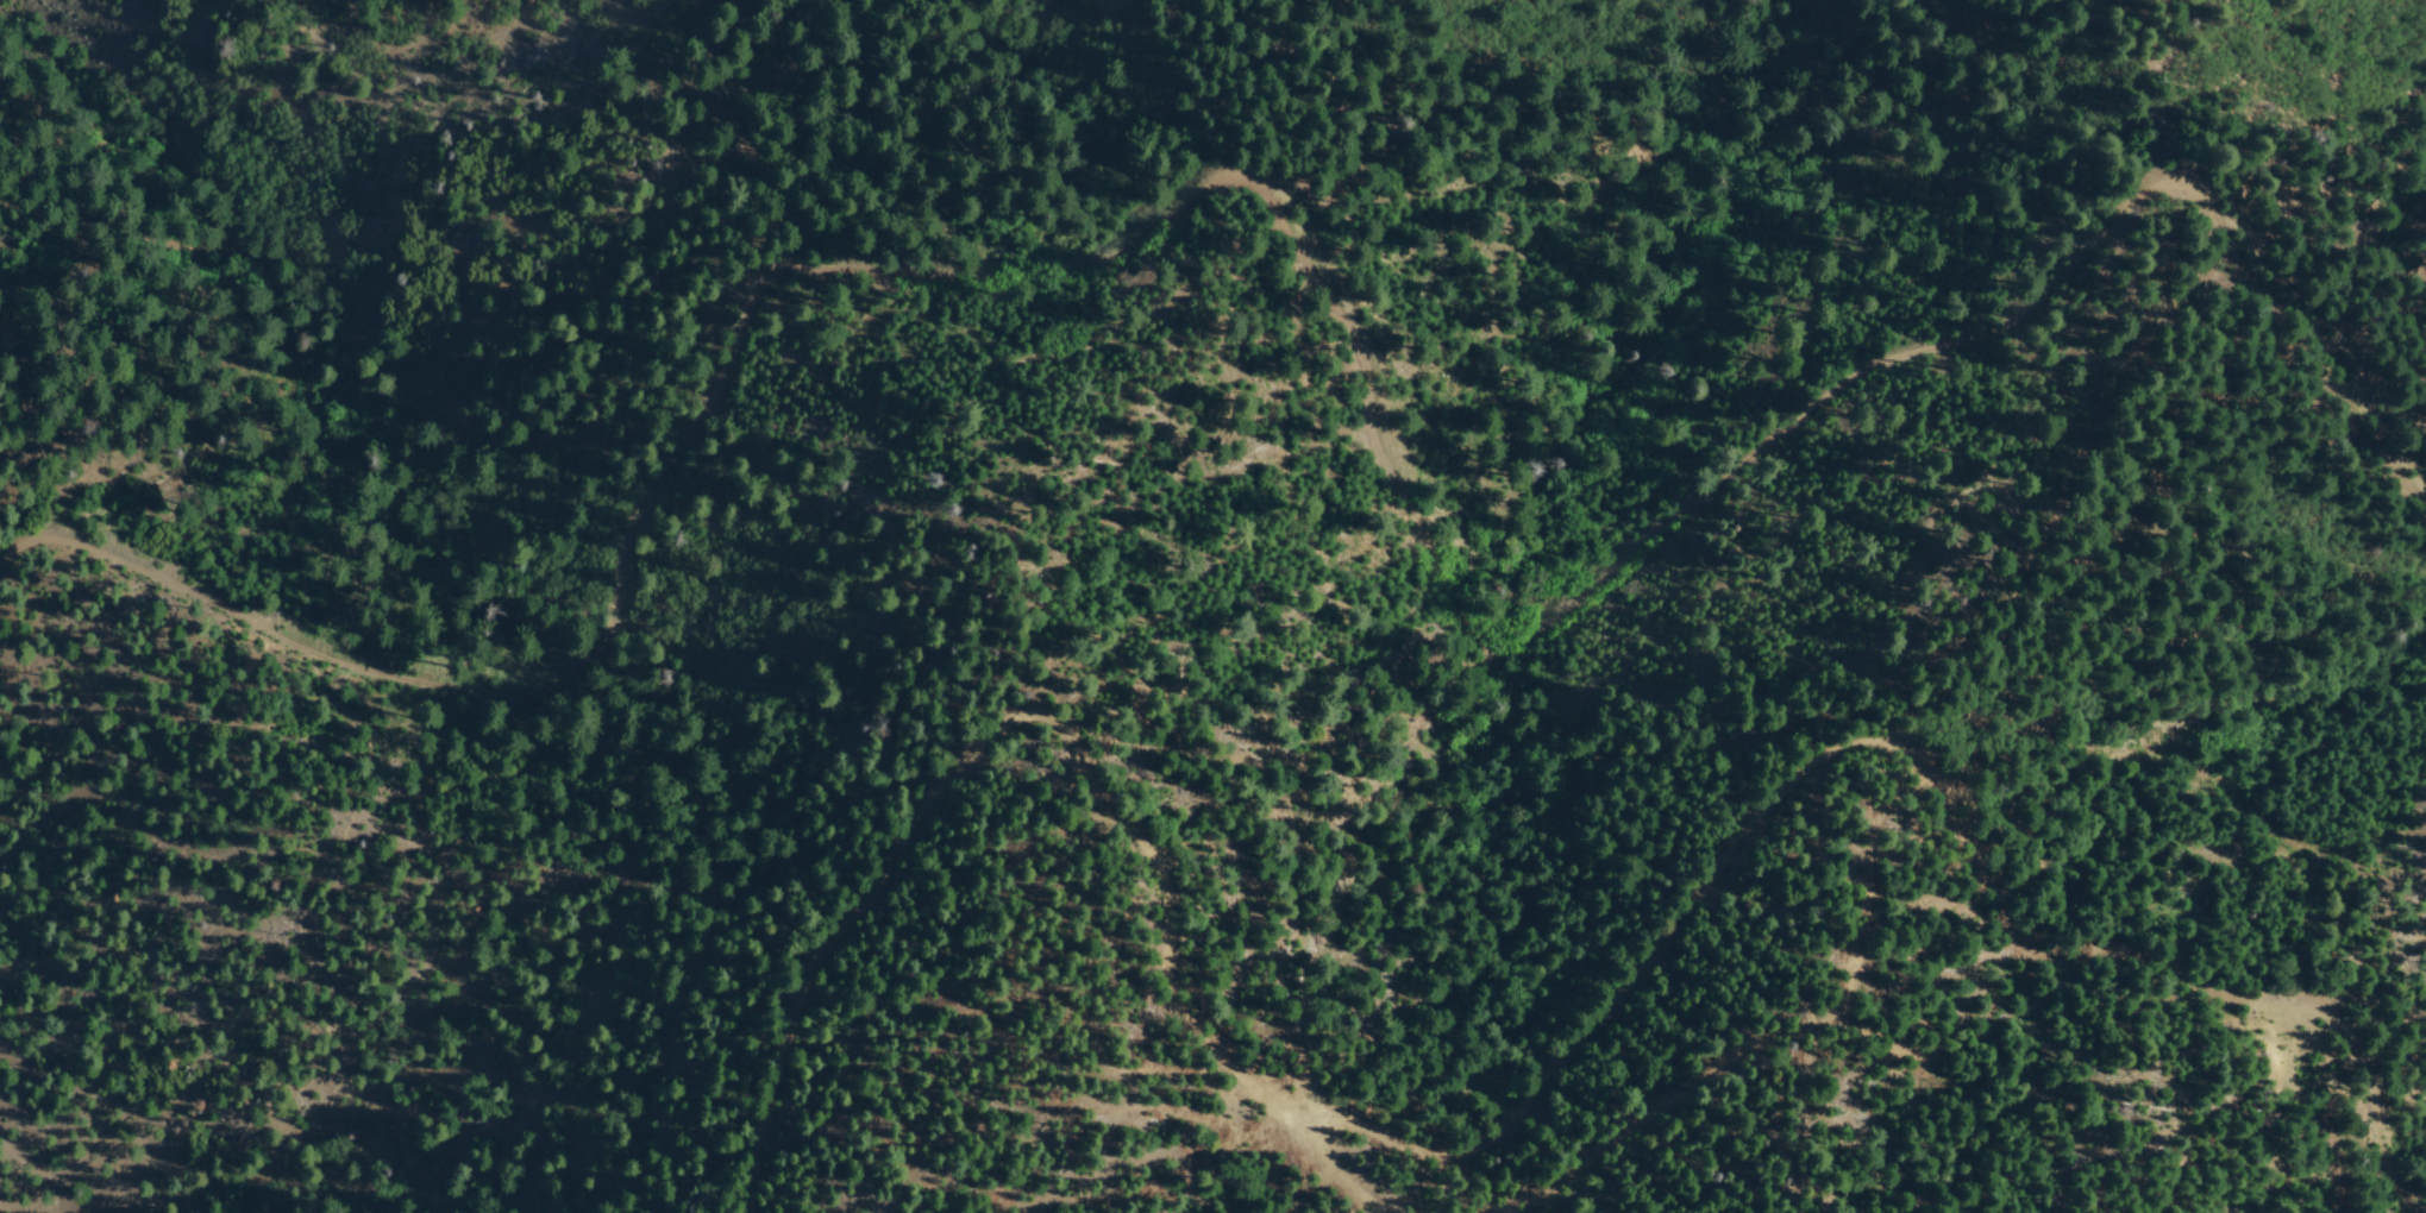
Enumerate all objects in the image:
road: (2168, 729)
road: (1480, 1158)
road: (1364, 1209)

